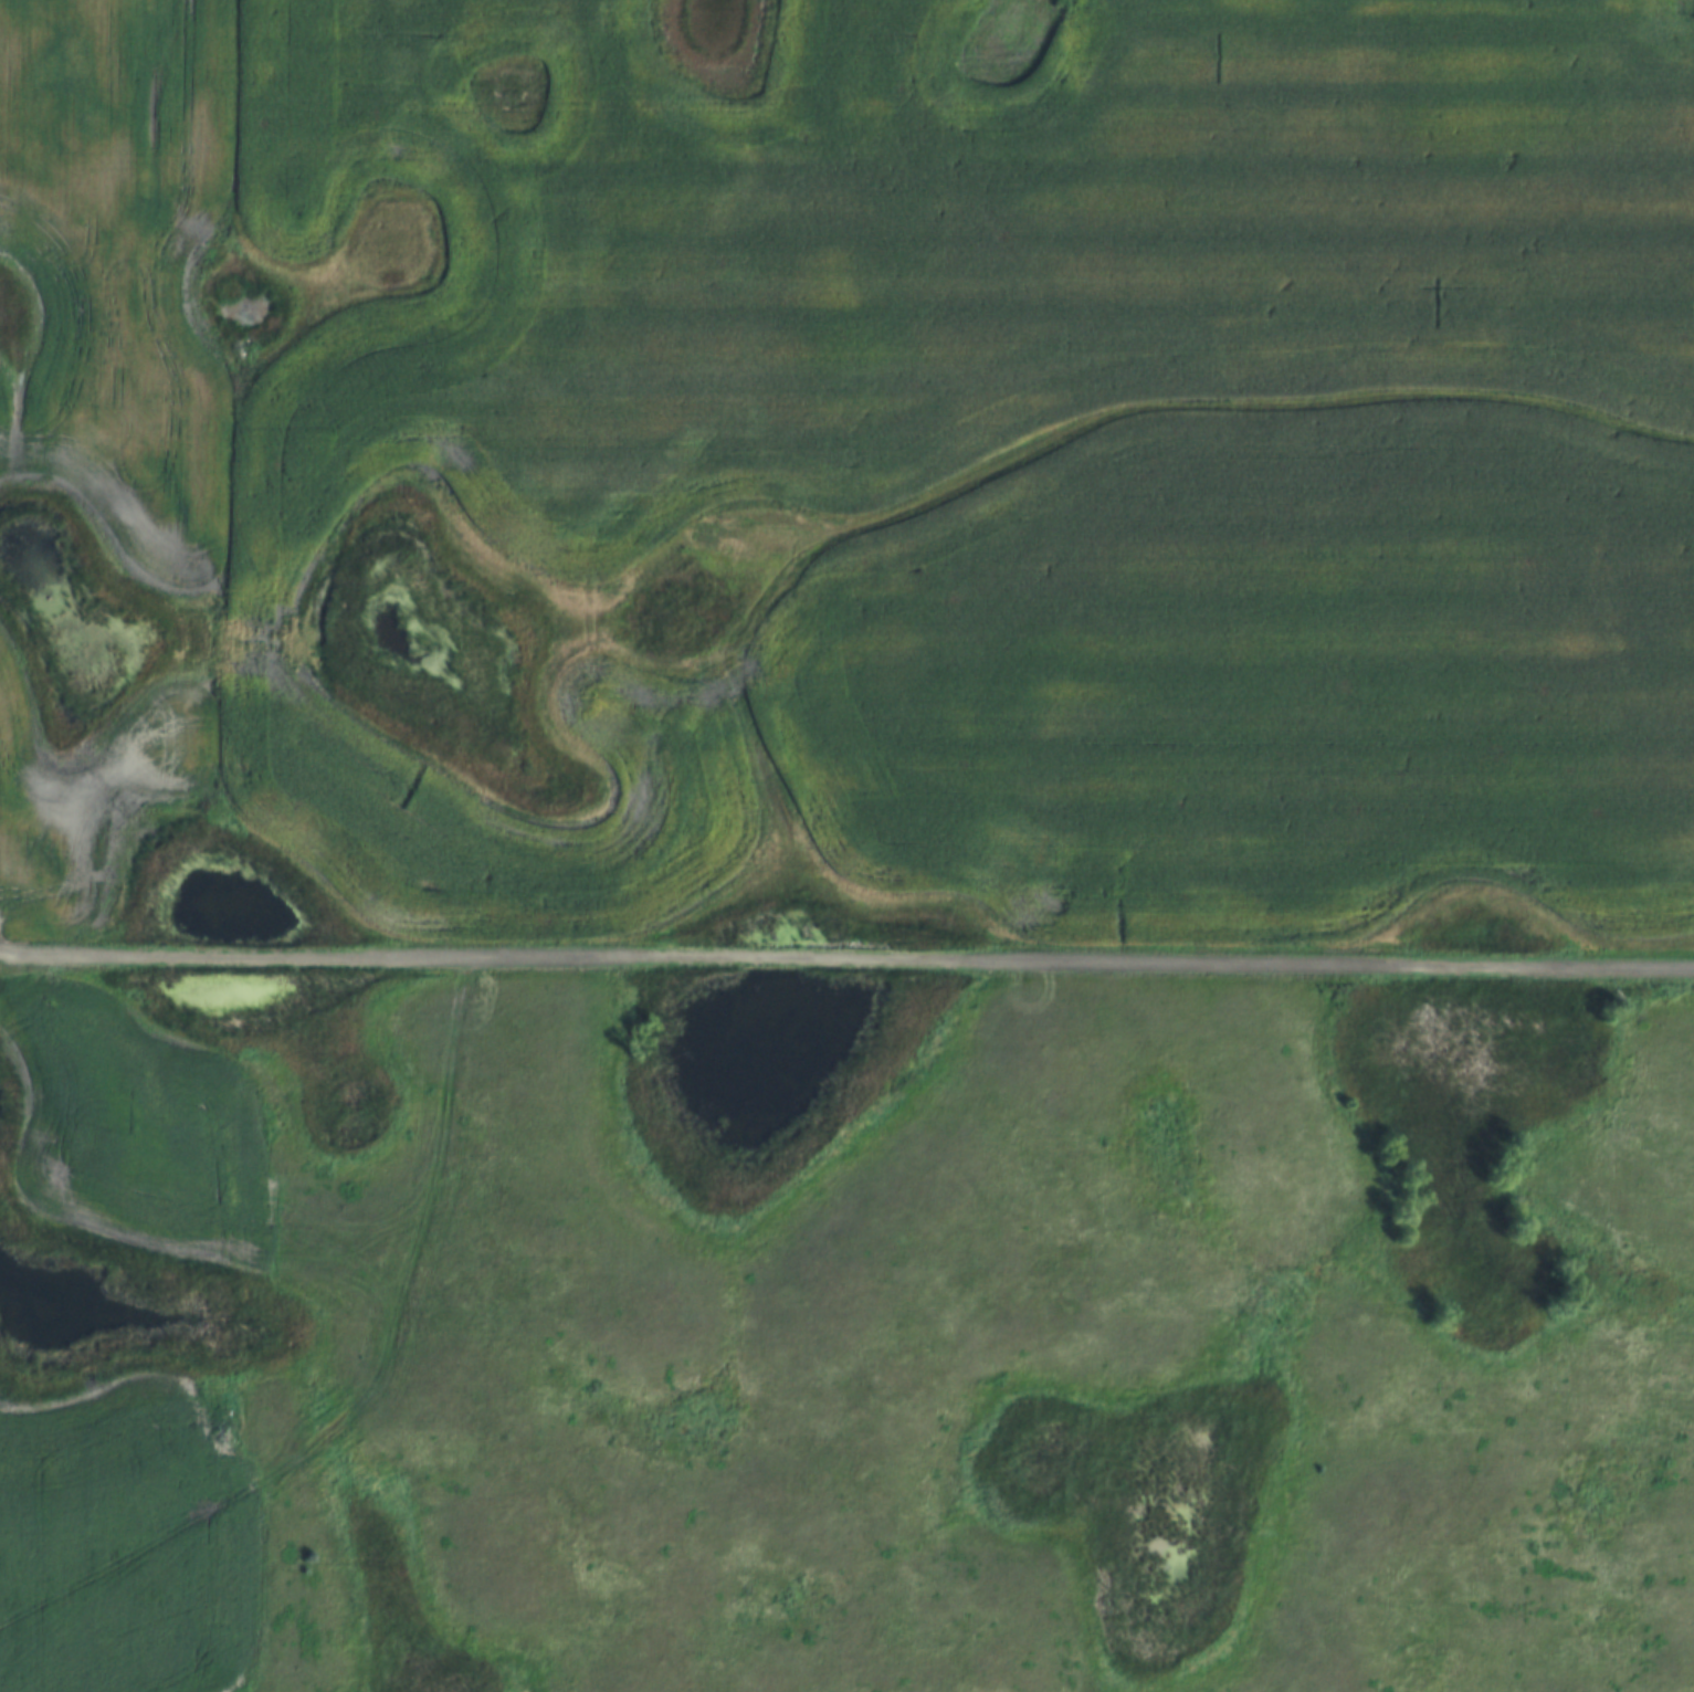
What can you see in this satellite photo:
road: (846, 965)

